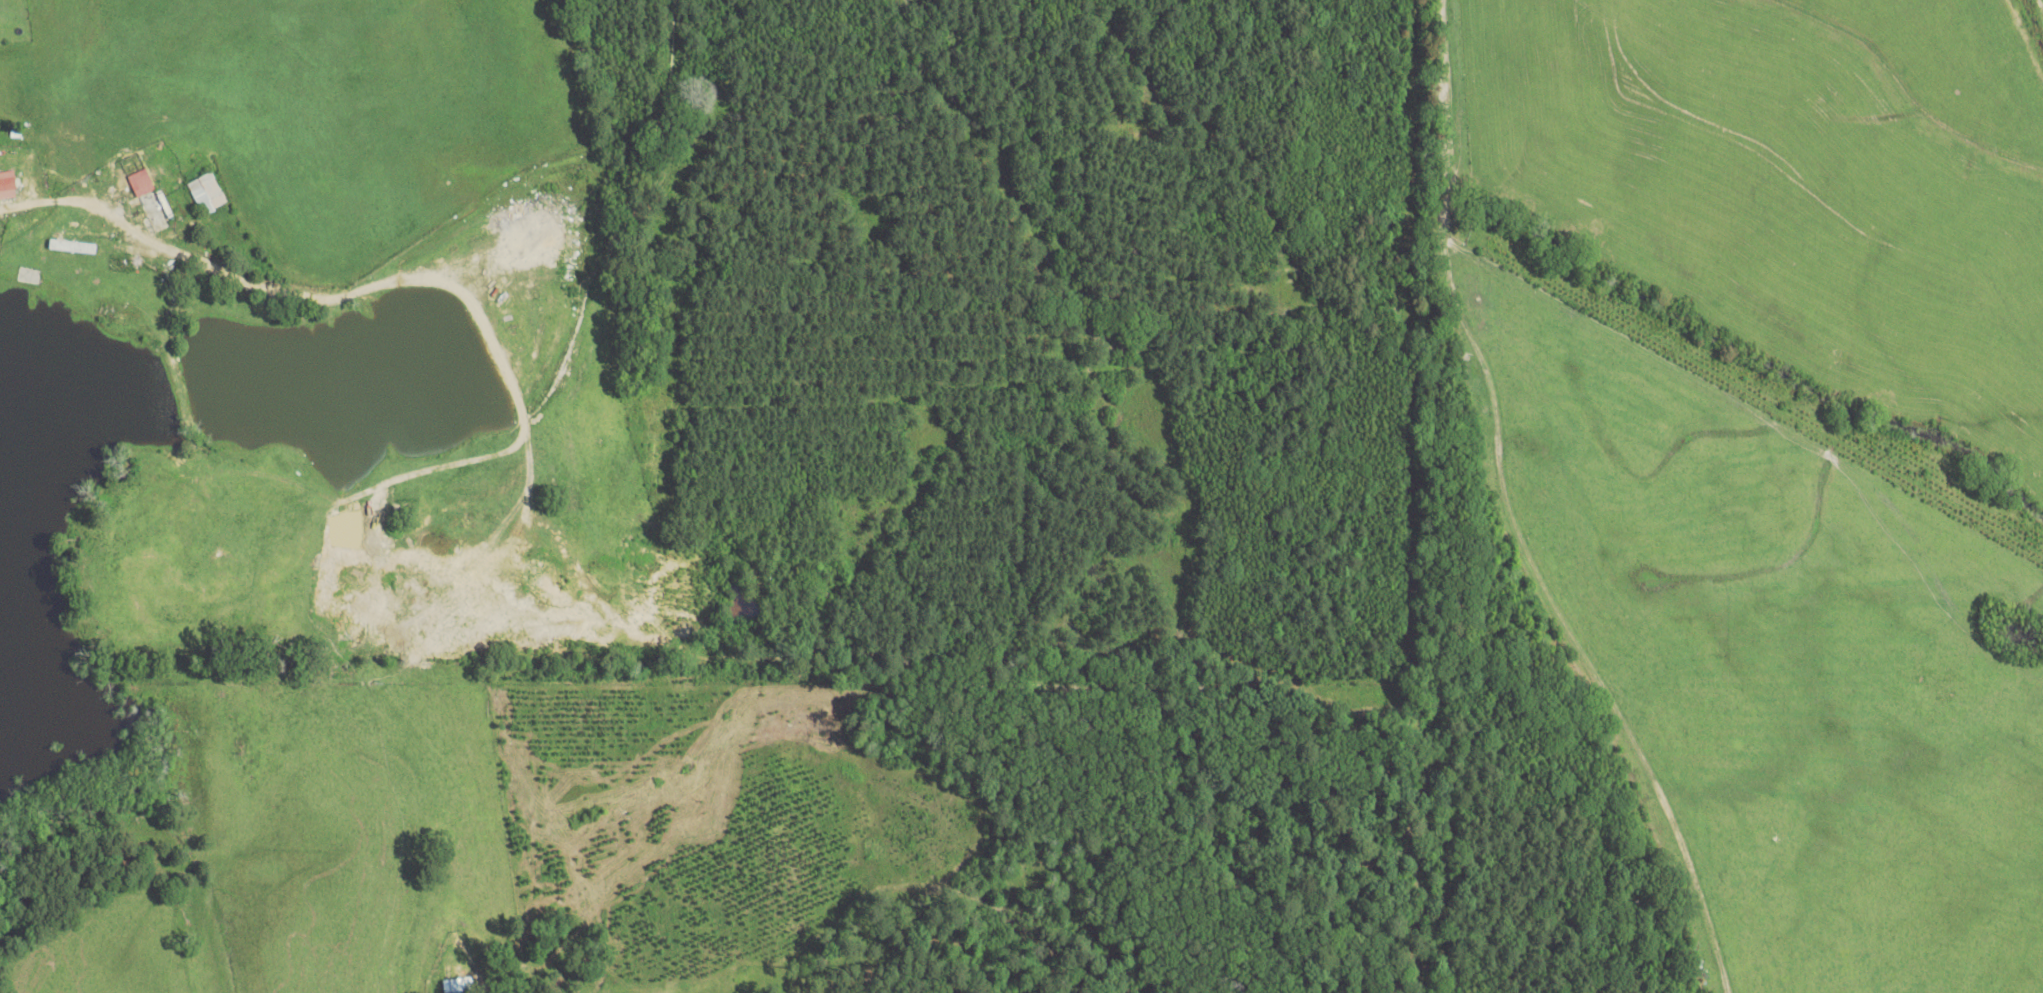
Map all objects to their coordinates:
building: (71, 169)
building: (8, 182)
building: (209, 195)
road: (28, 204)
building: (153, 207)
building: (32, 276)
road: (1510, 516)

